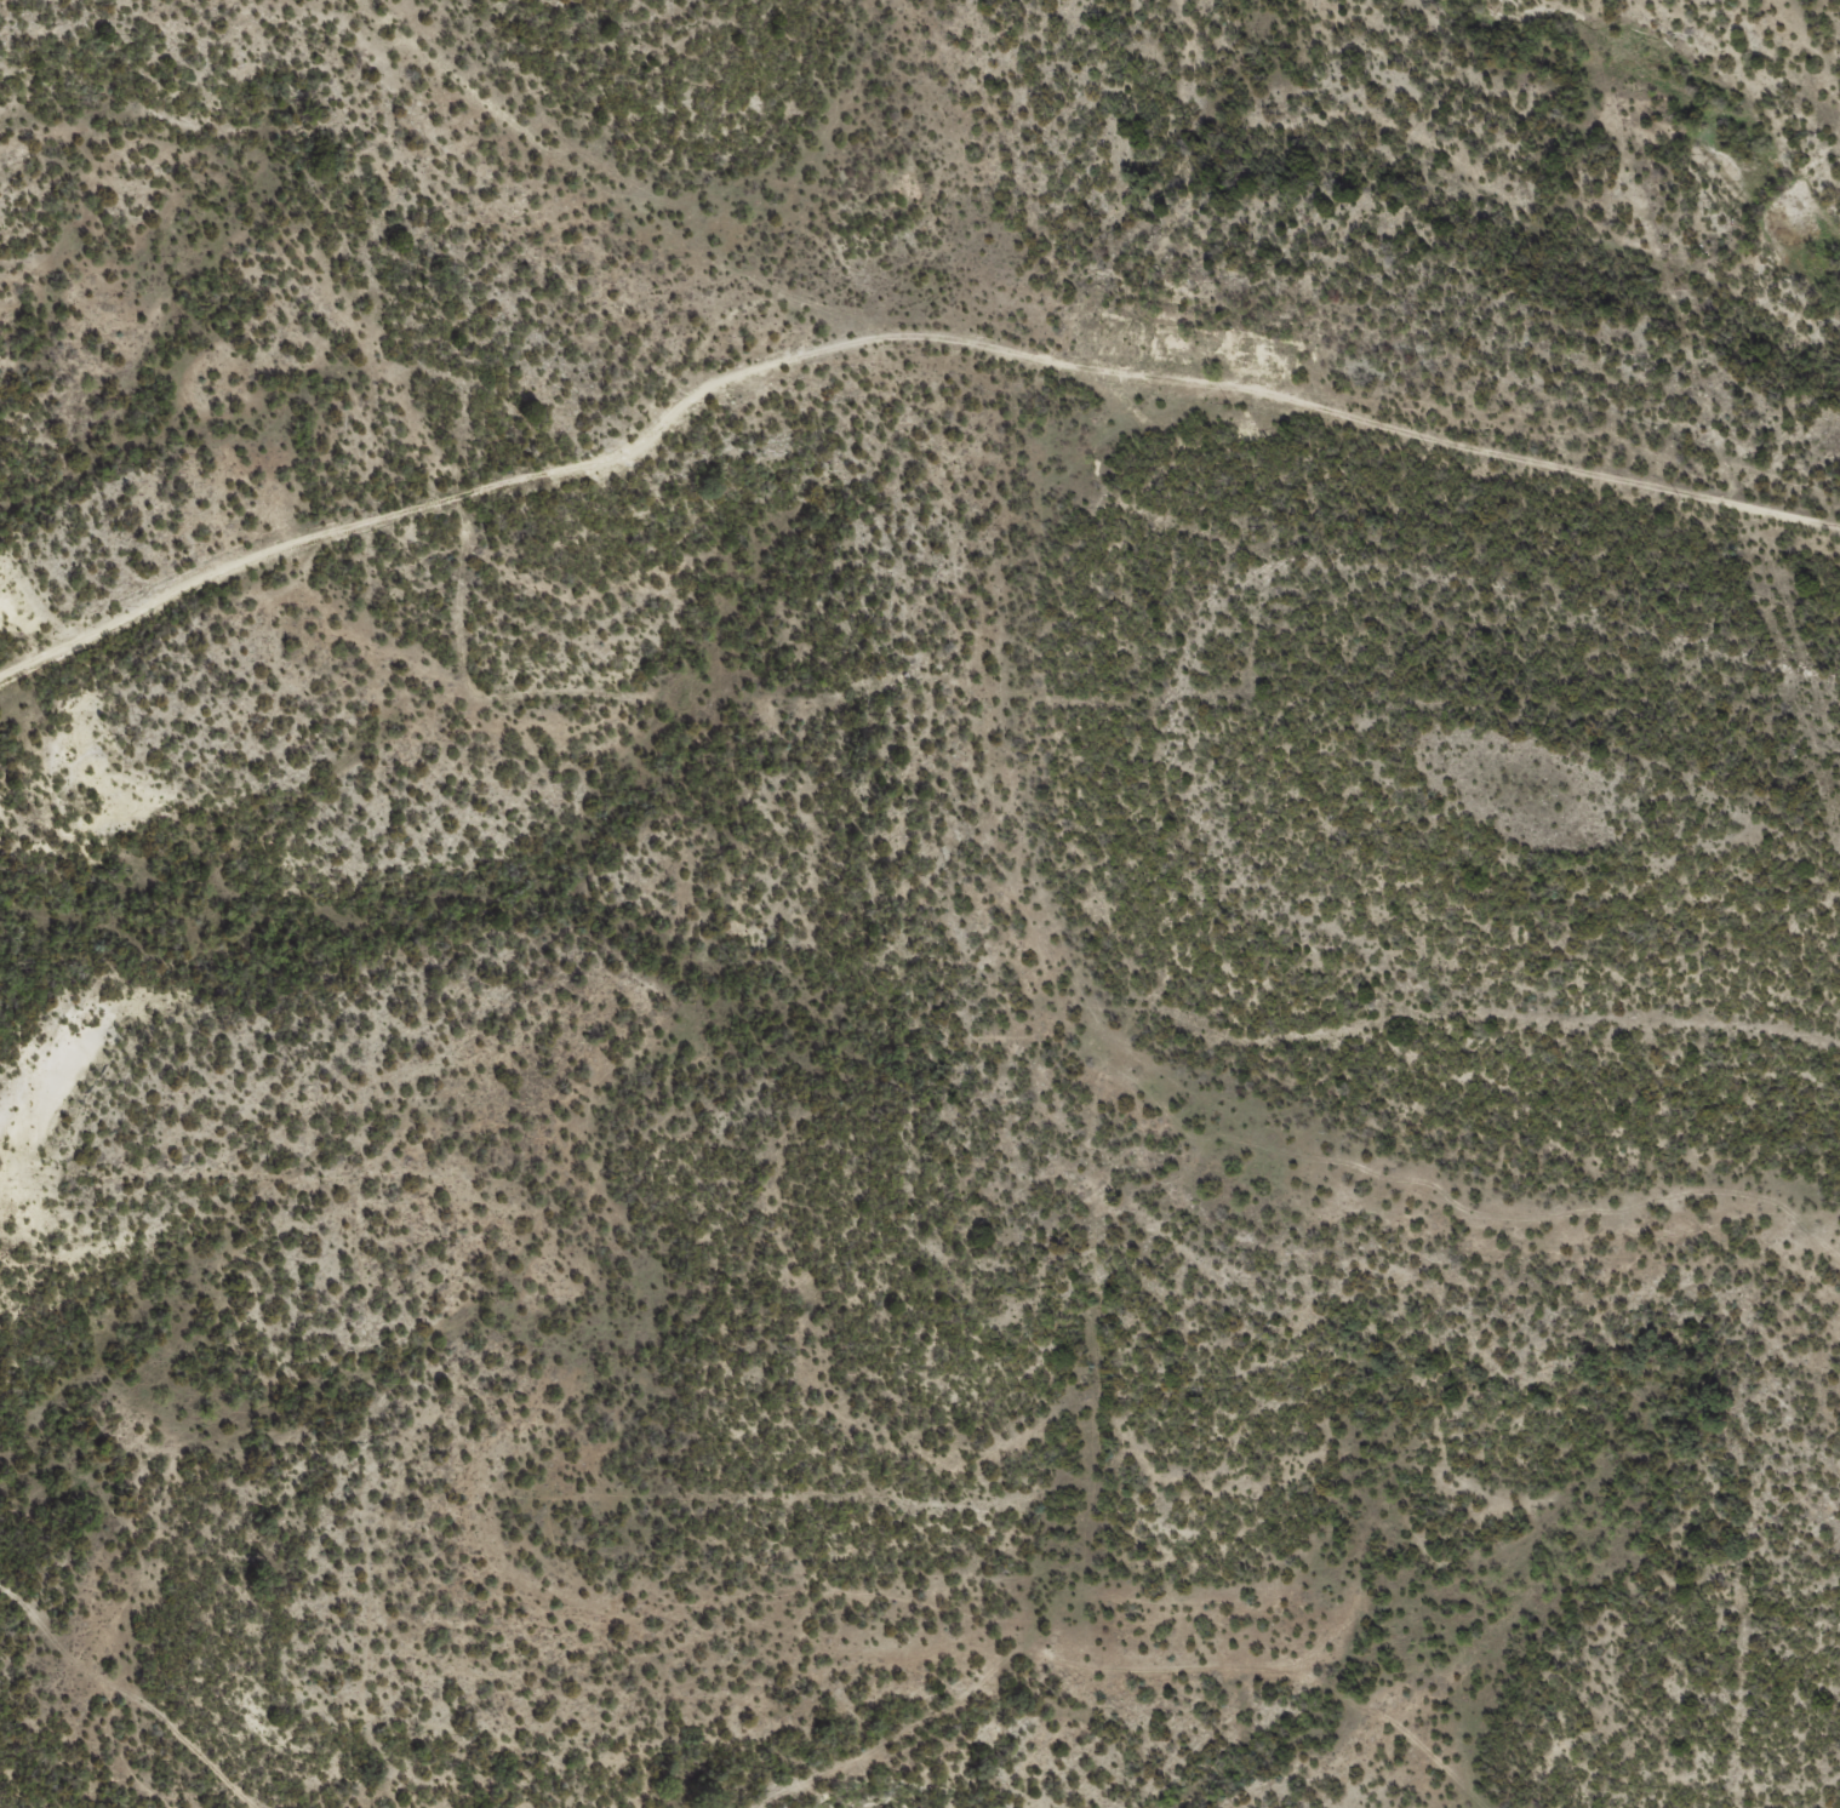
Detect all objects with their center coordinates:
road: (895, 337)

